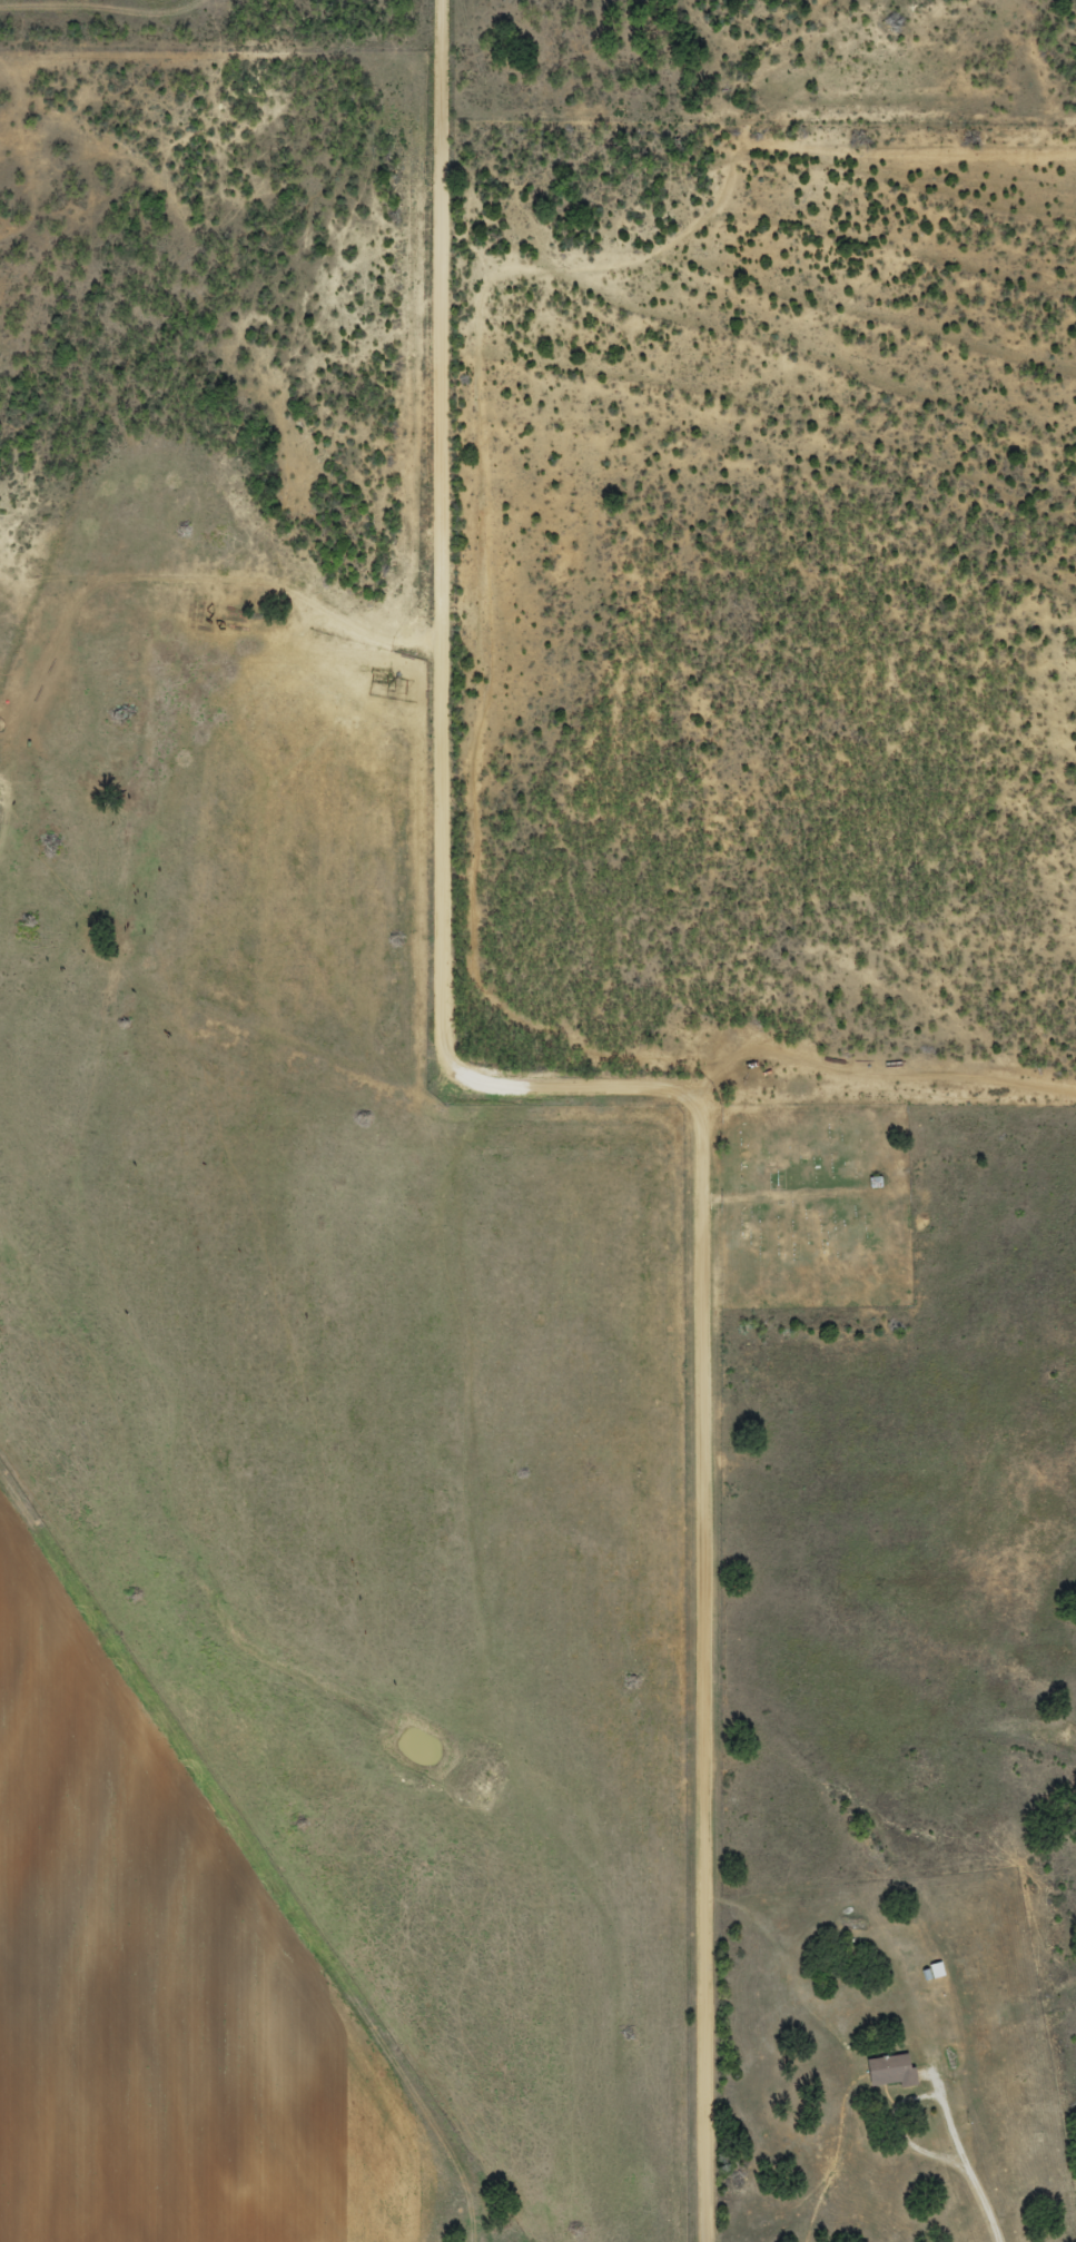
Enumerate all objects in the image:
road: (473, 628)
park: (816, 1205)
road: (702, 1670)
building: (889, 2062)
road: (968, 2162)

